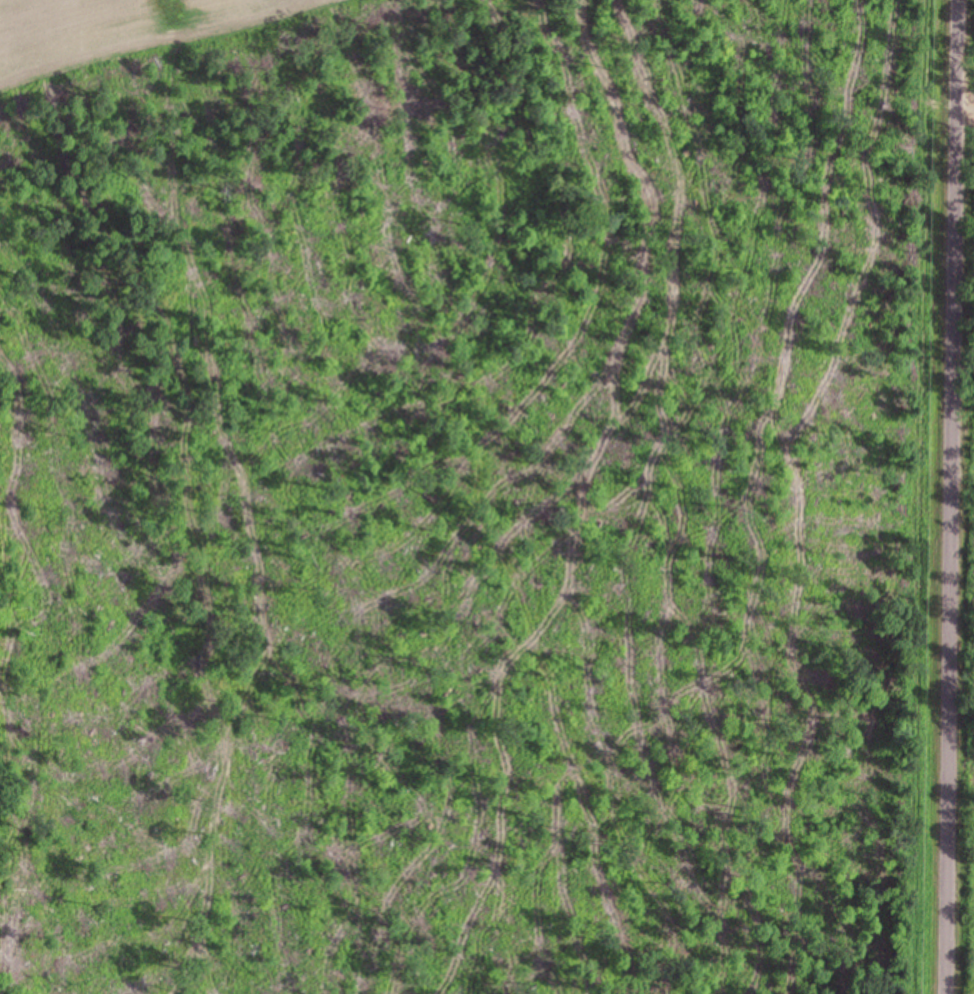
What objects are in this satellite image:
road: (960, 497)

